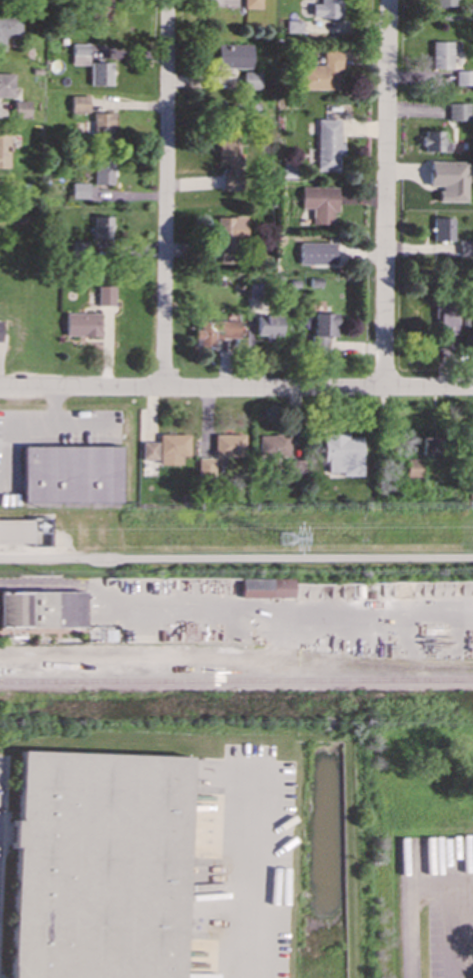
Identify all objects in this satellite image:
building: (444, 2)
building: (251, 4)
building: (99, 9)
building: (326, 9)
building: (8, 27)
building: (78, 54)
building: (441, 54)
building: (233, 55)
building: (320, 72)
building: (99, 73)
building: (463, 77)
building: (250, 80)
building: (6, 84)
building: (77, 104)
building: (20, 108)
building: (457, 111)
building: (101, 127)
building: (433, 141)
building: (327, 144)
building: (3, 148)
building: (227, 161)
building: (101, 172)
building: (447, 179)
building: (78, 189)
road: (165, 194)
road: (386, 194)
building: (318, 203)
building: (101, 227)
building: (442, 228)
building: (227, 235)
building: (79, 248)
building: (466, 248)
building: (316, 253)
building: (104, 295)
building: (81, 323)
building: (444, 324)
building: (266, 325)
building: (322, 327)
building: (216, 330)
road: (236, 389)
building: (227, 444)
building: (272, 446)
building: (431, 446)
building: (171, 447)
building: (148, 449)
building: (342, 453)
building: (292, 467)
building: (412, 467)
building: (70, 473)
building: (21, 529)
power tower: (285, 540)
road: (236, 558)
building: (265, 587)
road: (134, 603)
building: (41, 609)
railway: (236, 683)
building: (98, 865)
road: (239, 877)
road: (408, 892)
road: (451, 915)

